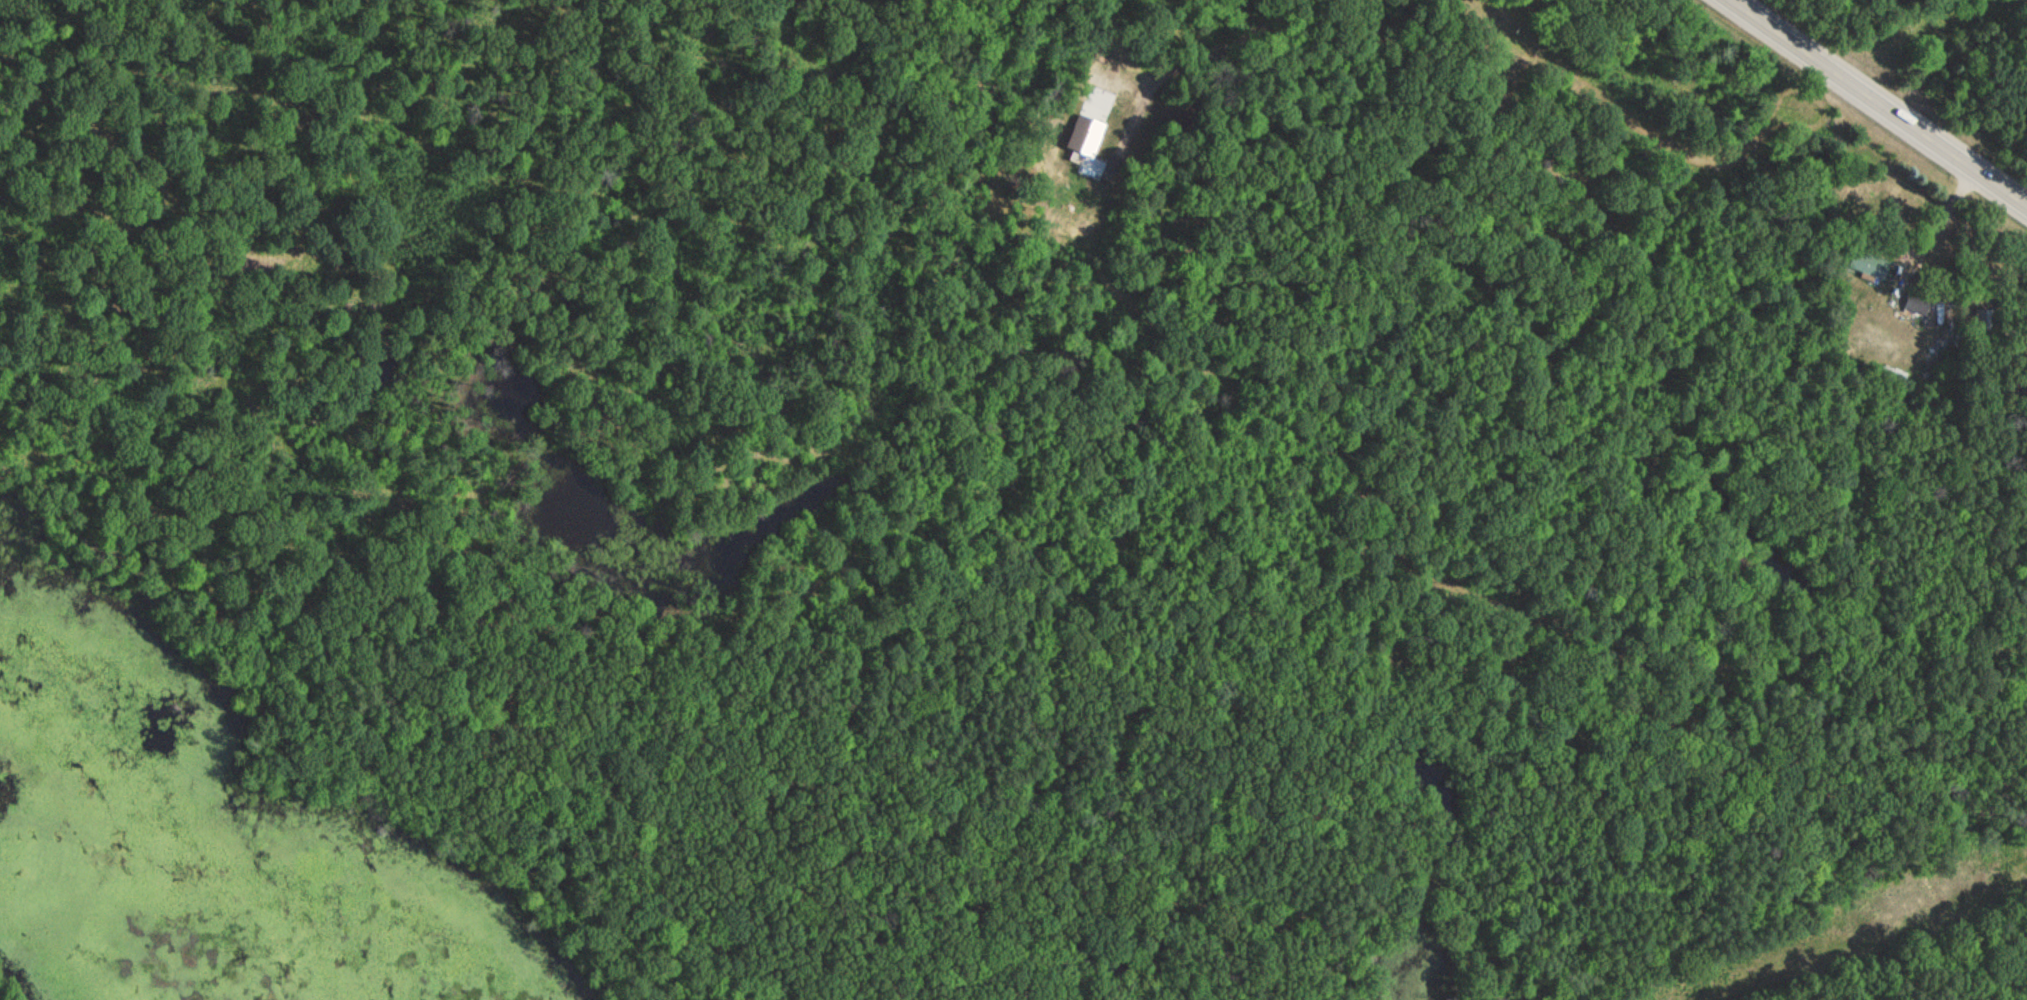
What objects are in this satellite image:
road: (1923, 23)
road: (1877, 105)
building: (1917, 304)

